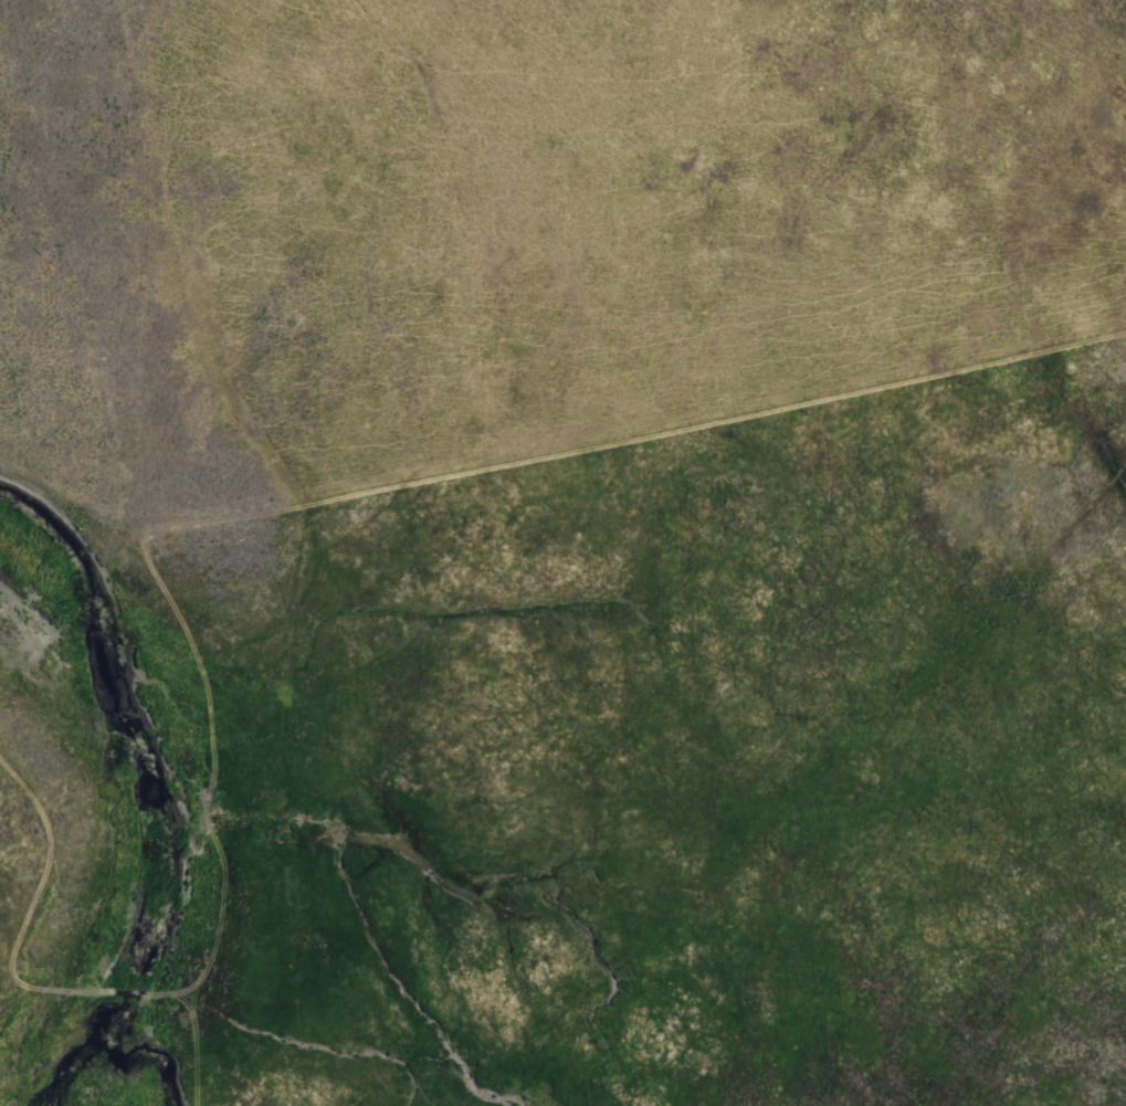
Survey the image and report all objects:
crop: (562, 552)

